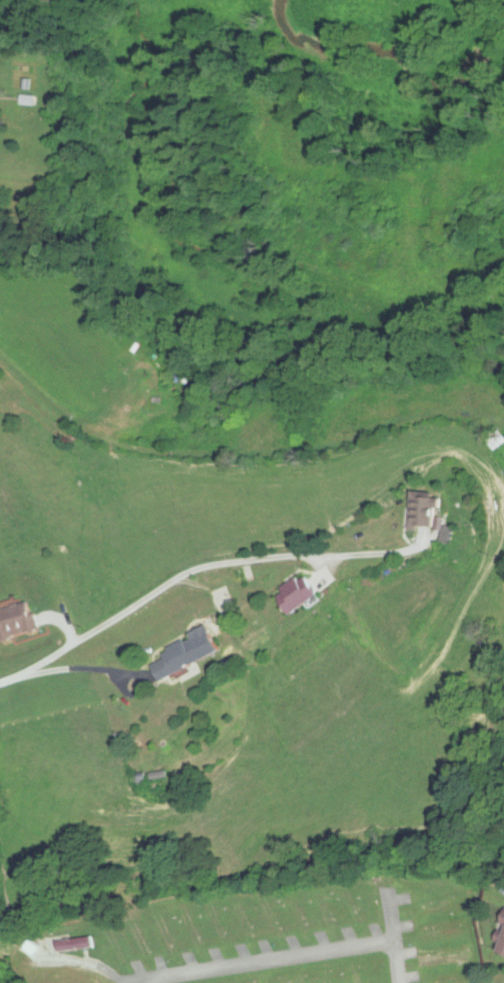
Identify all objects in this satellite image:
building: (429, 512)
building: (302, 596)
road: (147, 599)
building: (17, 622)
building: (190, 655)
building: (438, 904)
building: (502, 936)
road: (393, 939)
building: (76, 944)
building: (28, 947)
road: (259, 961)
building: (359, 974)
road: (148, 981)

